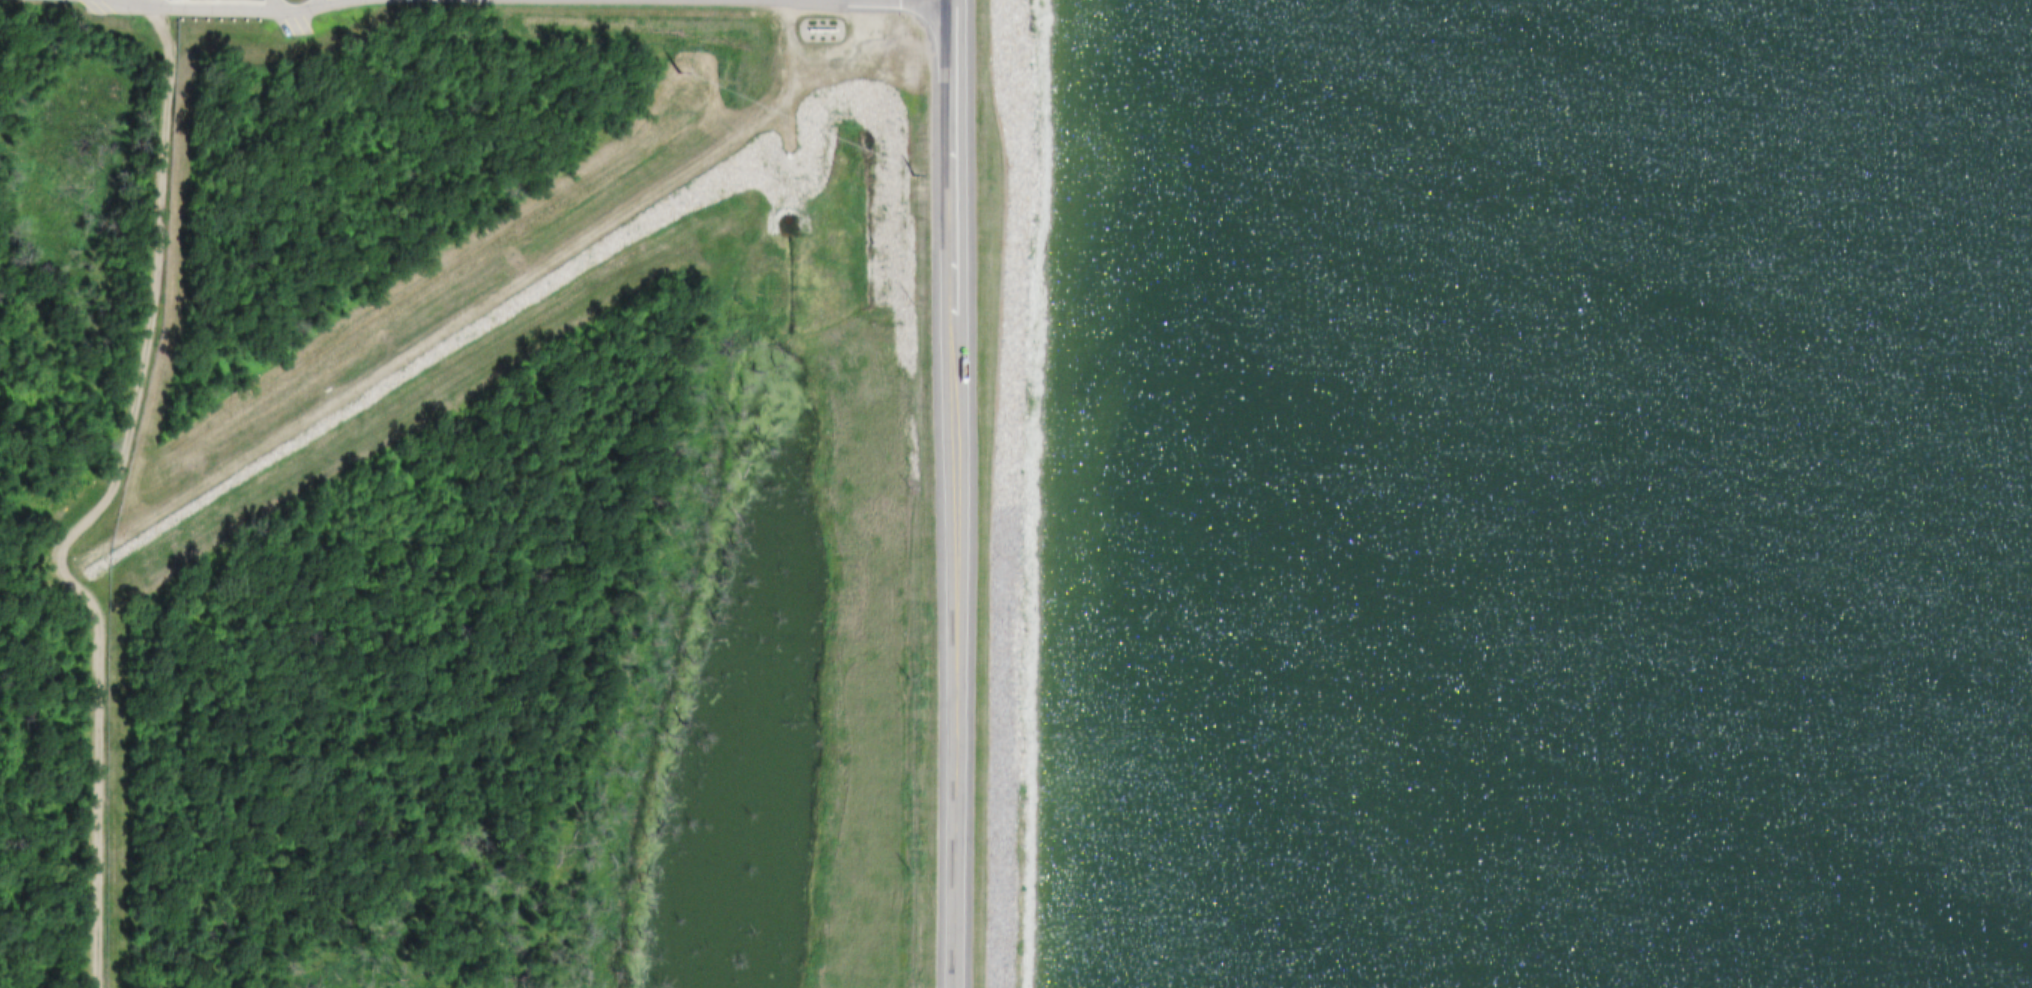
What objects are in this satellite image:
road: (189, 4)
road: (1015, 154)
road: (116, 495)
road: (1009, 648)

